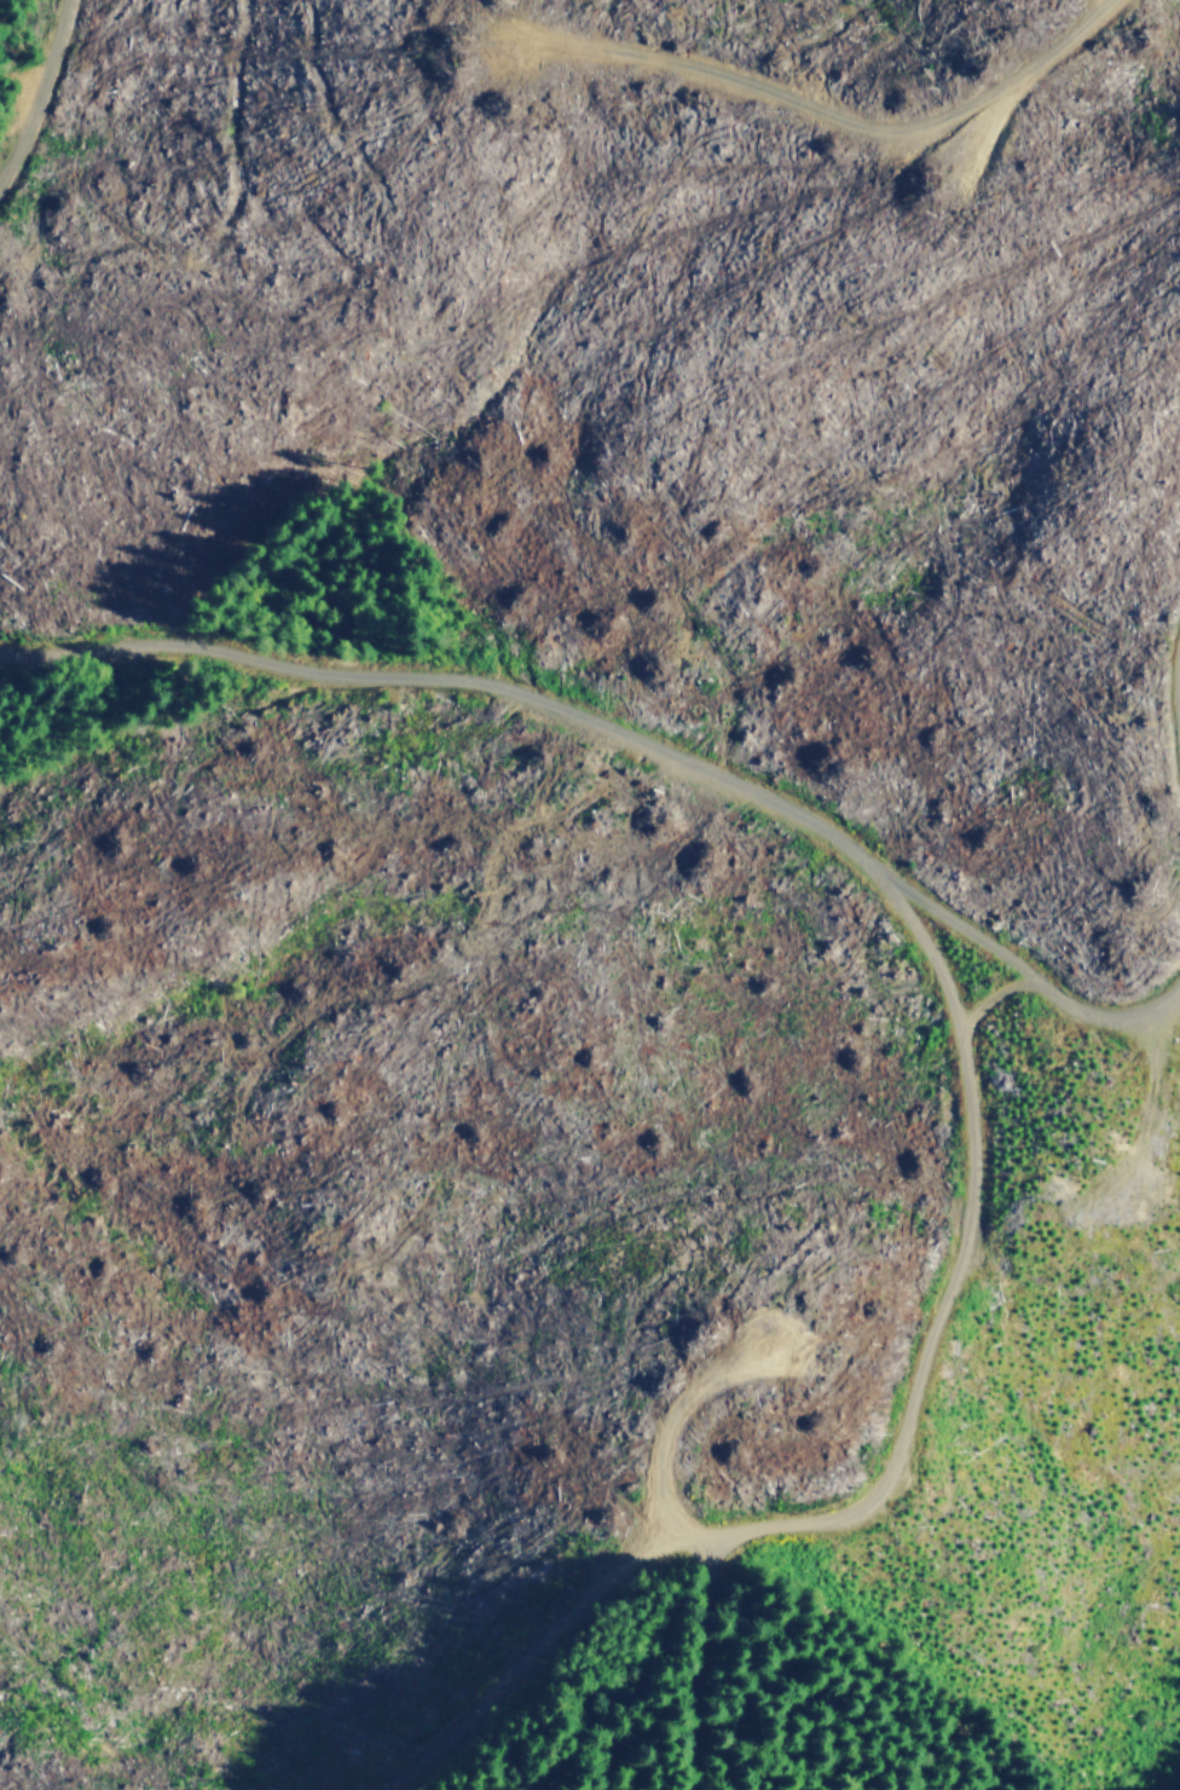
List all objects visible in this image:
road: (11, 24)
road: (711, 766)
road: (1016, 982)
road: (967, 1445)
road: (602, 1730)

